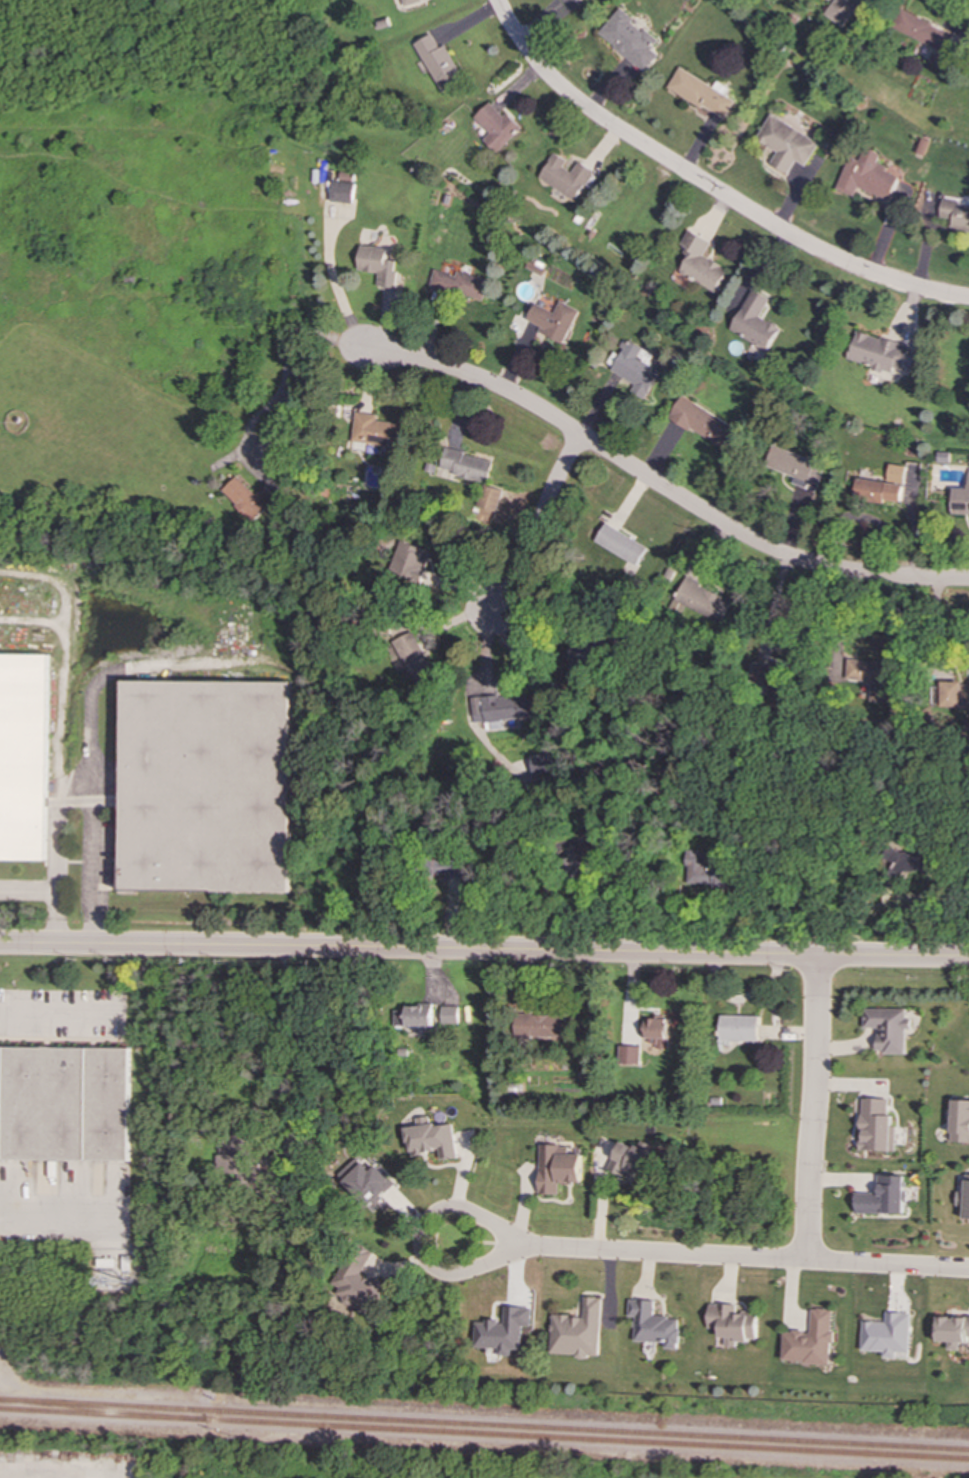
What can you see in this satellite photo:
building: (576, 0)
building: (410, 2)
building: (842, 10)
building: (925, 34)
building: (629, 39)
building: (439, 63)
building: (702, 93)
building: (496, 126)
building: (786, 143)
building: (566, 176)
building: (866, 176)
road: (707, 186)
building: (339, 192)
building: (955, 215)
building: (700, 263)
building: (379, 266)
building: (460, 284)
road: (336, 287)
building: (554, 320)
building: (754, 321)
building: (878, 352)
building: (637, 368)
building: (706, 424)
building: (376, 431)
building: (464, 466)
building: (796, 468)
road: (662, 486)
building: (882, 487)
building: (246, 498)
building: (961, 500)
building: (492, 502)
road: (537, 527)
building: (622, 544)
building: (410, 562)
building: (703, 600)
road: (842, 619)
road: (30, 621)
building: (412, 656)
building: (581, 660)
building: (772, 673)
building: (873, 677)
building: (954, 695)
building: (503, 708)
road: (57, 711)
building: (23, 757)
building: (541, 763)
road: (90, 777)
building: (205, 786)
road: (72, 799)
building: (580, 860)
building: (914, 862)
building: (451, 869)
building: (707, 872)
road: (50, 897)
road: (484, 951)
road: (57, 1011)
building: (450, 1015)
building: (415, 1016)
building: (541, 1026)
building: (738, 1028)
building: (889, 1028)
building: (657, 1032)
road: (296, 1033)
building: (630, 1055)
building: (63, 1104)
road: (809, 1105)
building: (960, 1121)
building: (877, 1126)
building: (432, 1138)
building: (247, 1161)
building: (632, 1161)
building: (557, 1169)
building: (365, 1178)
building: (884, 1197)
building: (965, 1198)
road: (57, 1219)
road: (421, 1235)
road: (669, 1250)
road: (887, 1262)
building: (357, 1283)
building: (733, 1324)
building: (654, 1325)
building: (504, 1331)
building: (579, 1331)
building: (953, 1331)
building: (888, 1335)
building: (812, 1340)
railway: (101, 1410)
railway: (101, 1414)
railway: (484, 1424)
railway: (586, 1439)

